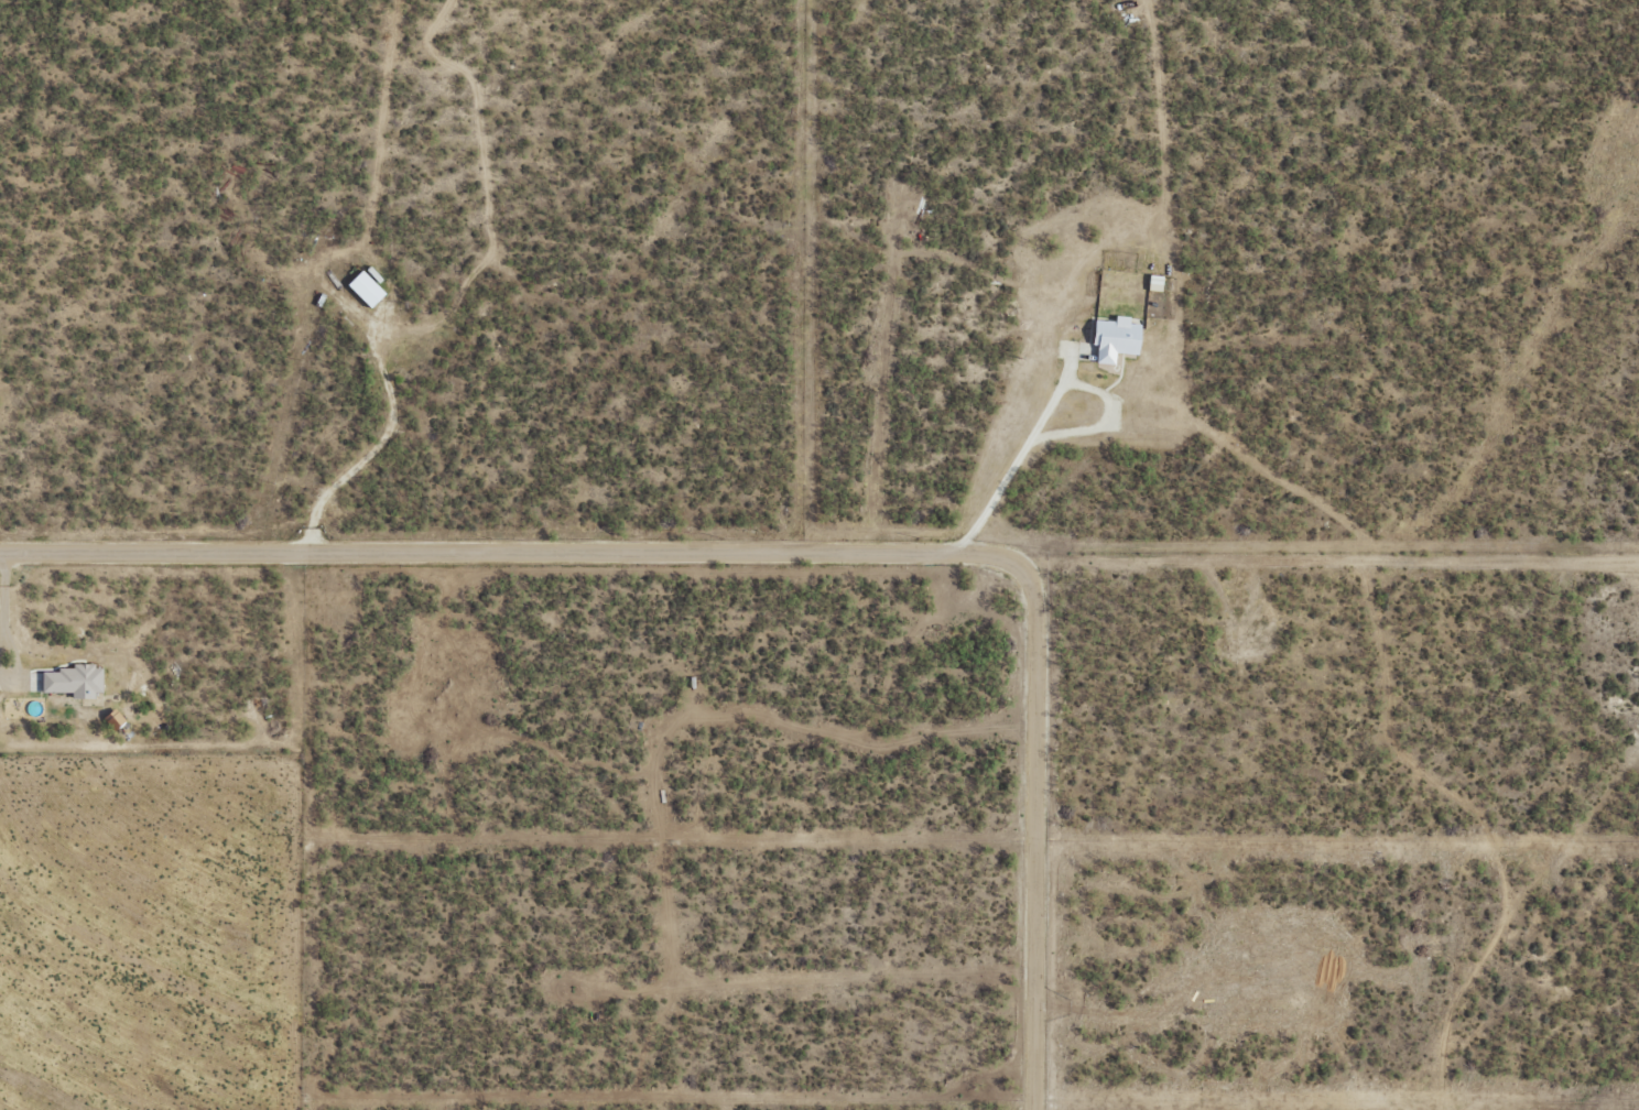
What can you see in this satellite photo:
building: (1116, 339)
road: (779, 554)
building: (74, 682)
building: (115, 719)
road: (1552, 904)

